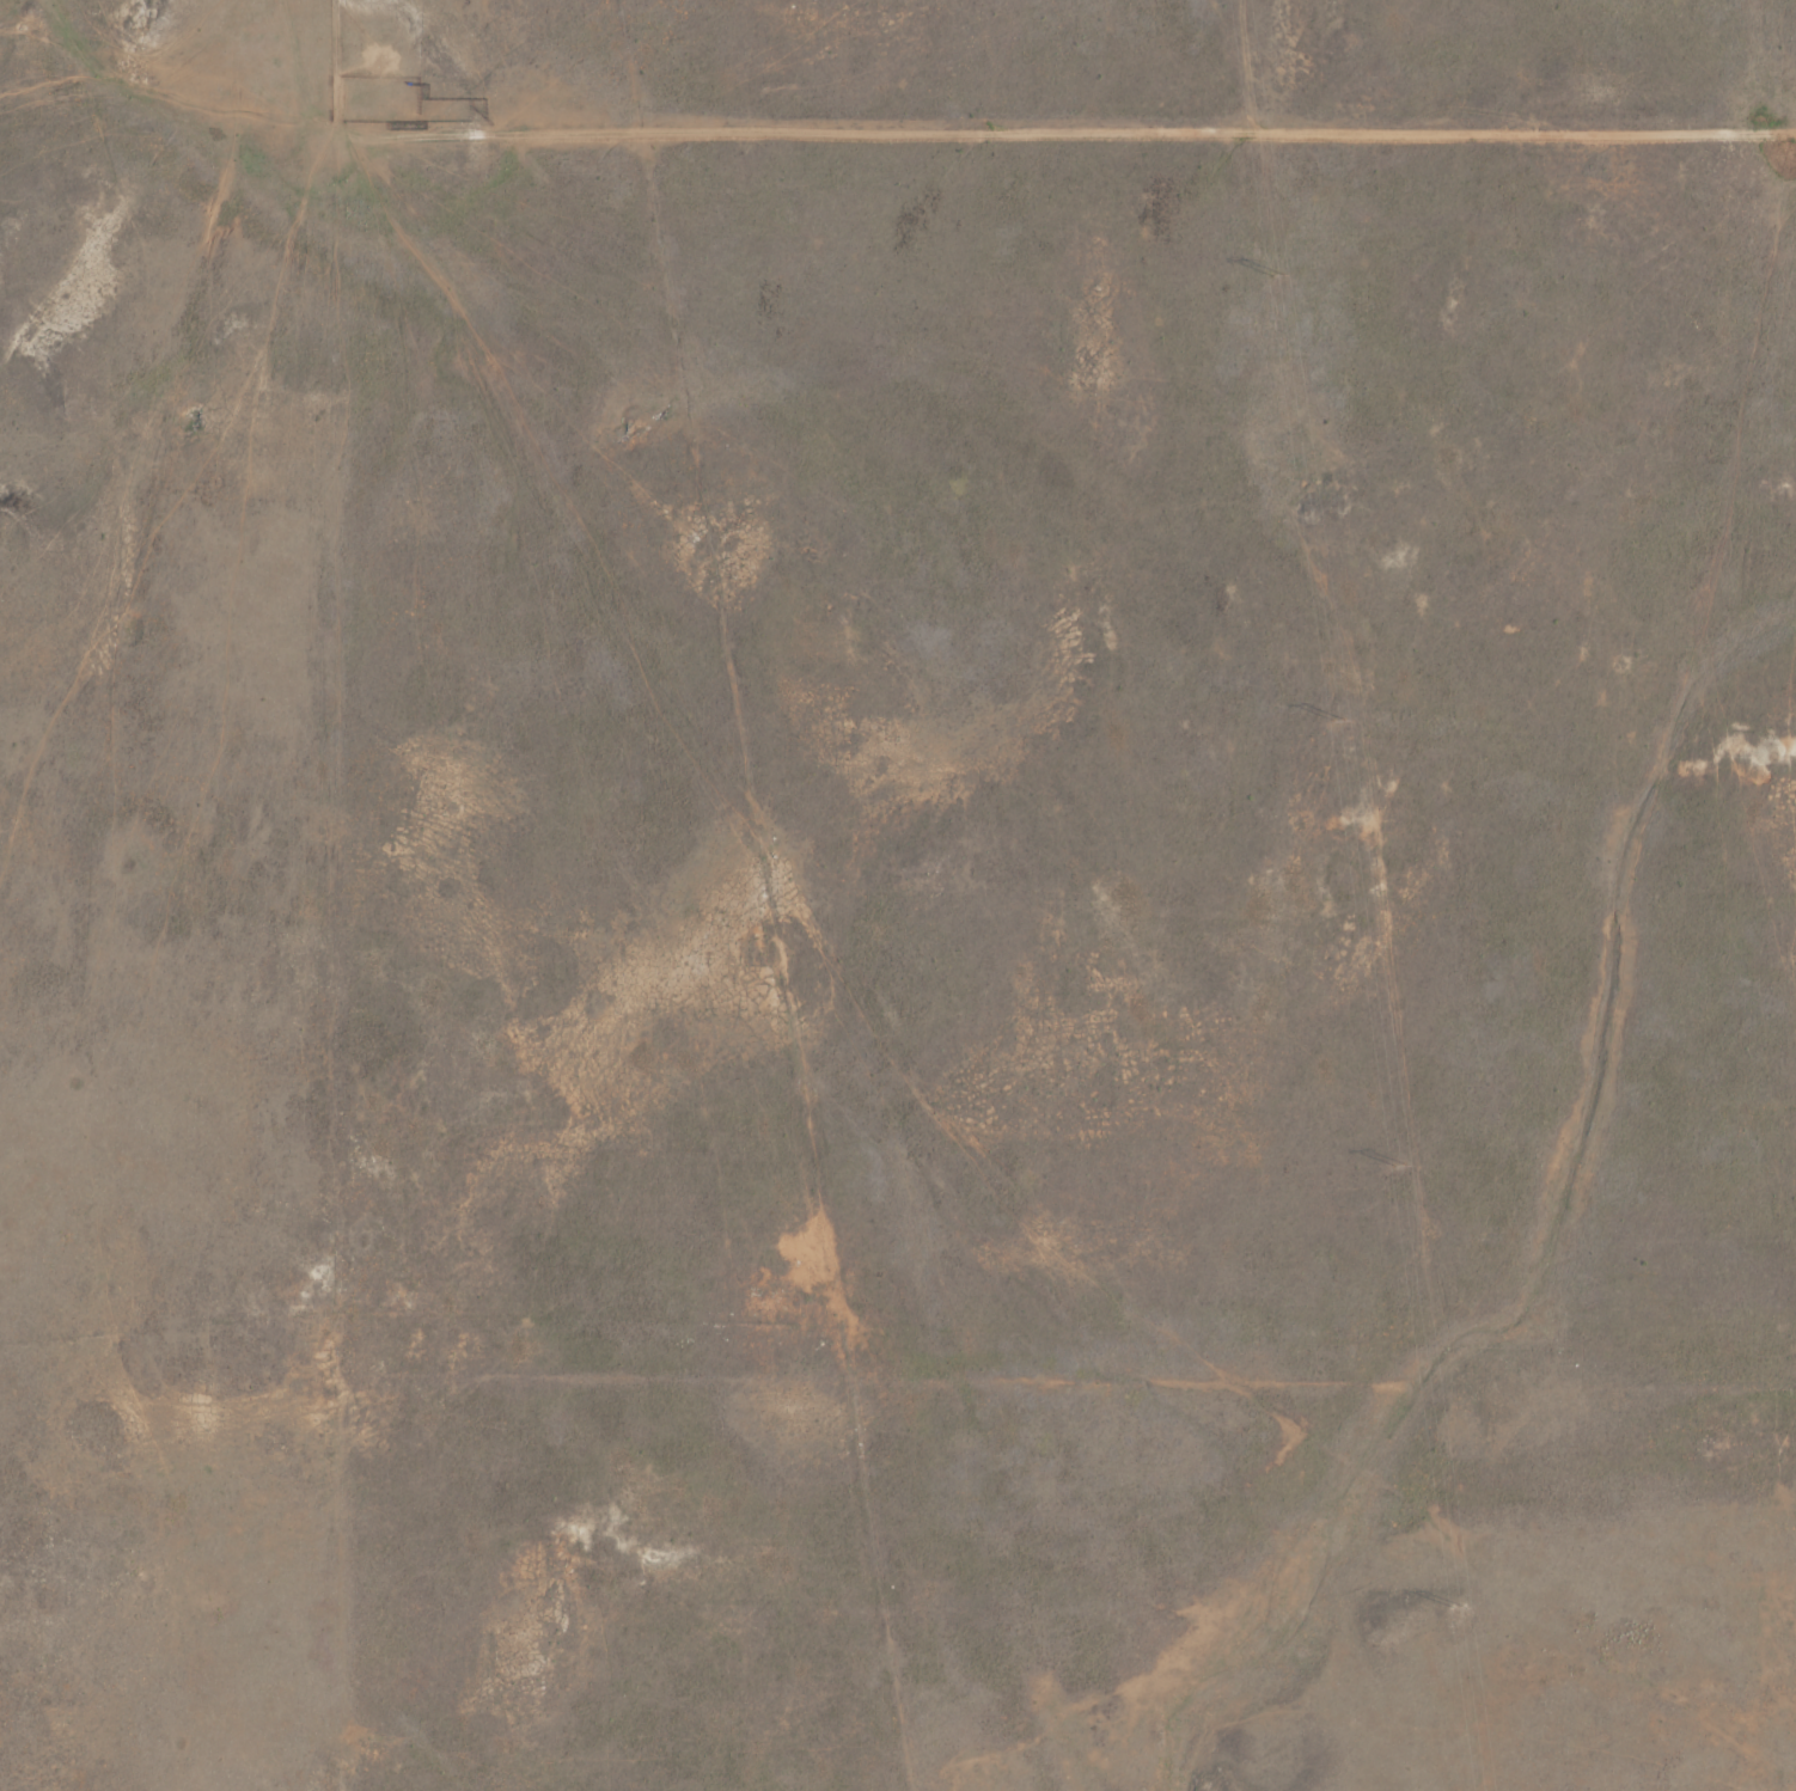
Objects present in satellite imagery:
power tower: (1278, 274)
power tower: (1339, 720)
power tower: (1399, 1165)
power tower: (1459, 1606)

